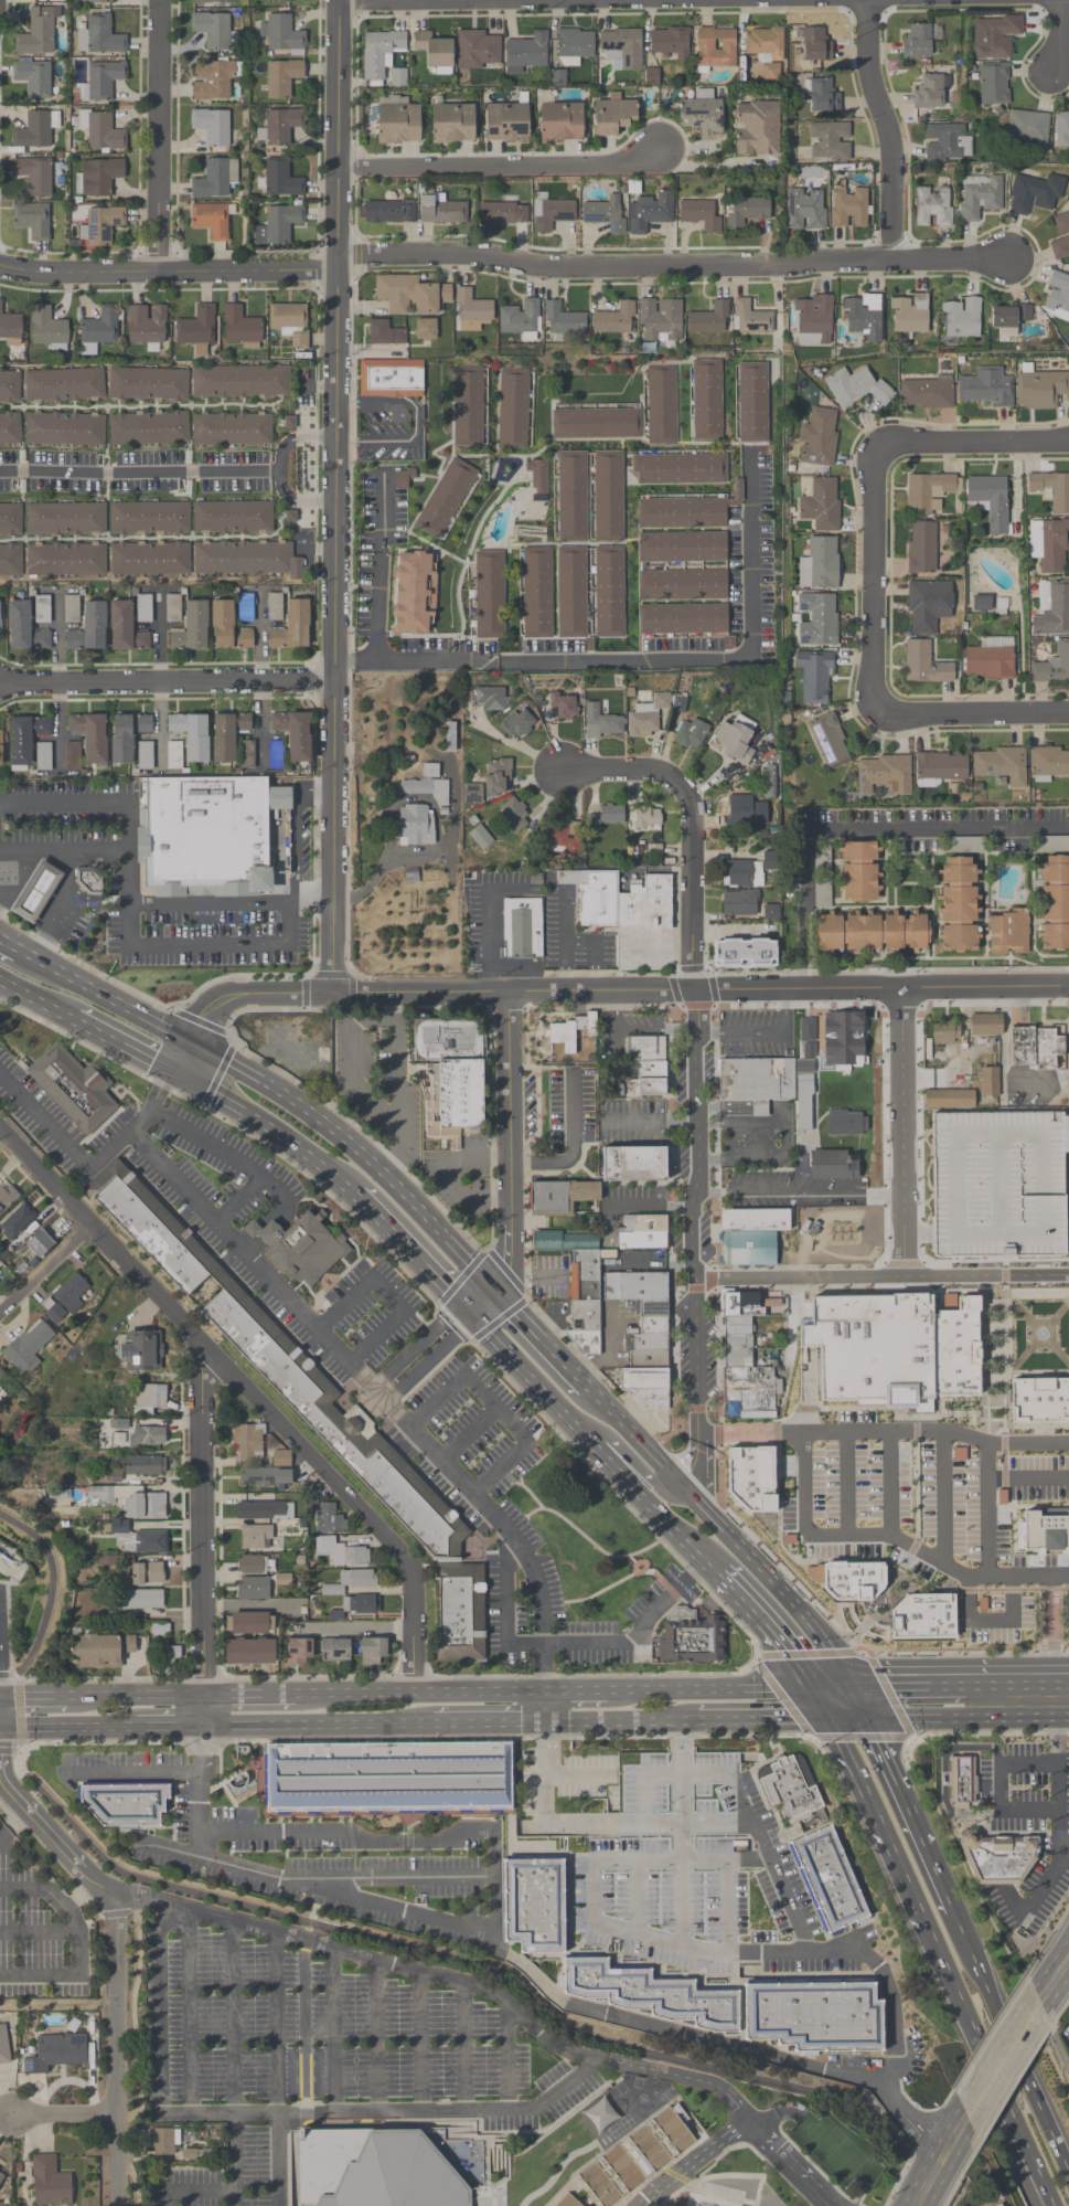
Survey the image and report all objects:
road: (427, 0)
building: (98, 1)
building: (210, 1)
building: (278, 1)
building: (212, 30)
building: (36, 32)
building: (98, 35)
building: (282, 35)
building: (997, 36)
road: (1056, 36)
building: (574, 42)
building: (670, 42)
building: (918, 42)
building: (763, 43)
building: (816, 44)
building: (621, 46)
building: (716, 46)
building: (478, 50)
building: (435, 52)
building: (525, 53)
building: (383, 56)
building: (34, 77)
building: (281, 77)
building: (557, 77)
building: (101, 81)
building: (213, 81)
building: (993, 84)
building: (931, 92)
building: (823, 97)
building: (612, 114)
building: (703, 114)
building: (397, 120)
building: (452, 123)
building: (504, 123)
building: (560, 123)
building: (211, 126)
building: (279, 127)
building: (1027, 128)
building: (757, 129)
building: (1061, 129)
building: (34, 130)
building: (101, 130)
road: (884, 130)
road: (159, 136)
building: (829, 141)
building: (947, 144)
road: (499, 163)
building: (34, 174)
building: (97, 176)
building: (215, 178)
building: (281, 178)
building: (1034, 194)
building: (979, 197)
building: (932, 206)
building: (848, 208)
building: (805, 209)
building: (442, 210)
building: (388, 211)
building: (503, 212)
building: (650, 212)
building: (745, 212)
building: (550, 214)
building: (606, 214)
building: (701, 214)
building: (32, 221)
building: (211, 221)
building: (278, 224)
building: (101, 225)
building: (1060, 236)
road: (502, 259)
building: (1057, 294)
building: (410, 295)
building: (471, 307)
building: (908, 314)
building: (863, 316)
building: (960, 317)
building: (521, 318)
building: (750, 318)
building: (563, 319)
building: (614, 319)
building: (709, 319)
building: (1008, 319)
building: (660, 320)
building: (812, 320)
building: (290, 321)
building: (146, 325)
building: (47, 327)
building: (196, 327)
building: (242, 327)
building: (10, 328)
building: (98, 329)
building: (425, 329)
building: (384, 332)
building: (391, 379)
building: (242, 382)
building: (148, 384)
building: (64, 385)
building: (9, 386)
building: (855, 386)
building: (987, 388)
building: (1039, 389)
building: (926, 392)
building: (707, 400)
building: (751, 403)
building: (662, 404)
building: (468, 405)
building: (514, 409)
road: (416, 420)
building: (596, 424)
building: (149, 427)
building: (64, 428)
building: (232, 428)
building: (10, 429)
building: (817, 438)
road: (977, 441)
building: (680, 470)
road: (276, 471)
road: (138, 474)
building: (403, 478)
building: (538, 481)
building: (1050, 489)
building: (929, 492)
road: (334, 496)
building: (573, 497)
building: (608, 497)
building: (447, 499)
building: (991, 500)
building: (821, 505)
building: (682, 513)
building: (233, 517)
building: (150, 518)
building: (65, 519)
building: (10, 520)
building: (1049, 545)
building: (681, 548)
building: (921, 548)
building: (149, 559)
building: (245, 559)
building: (10, 560)
building: (65, 560)
building: (819, 564)
road: (380, 568)
road: (872, 577)
building: (682, 585)
building: (413, 593)
building: (536, 593)
building: (571, 593)
building: (609, 593)
building: (490, 595)
building: (981, 604)
building: (928, 605)
building: (275, 606)
building: (245, 607)
building: (71, 608)
building: (143, 608)
building: (173, 608)
building: (1051, 608)
building: (42, 609)
building: (0, 617)
building: (683, 619)
building: (816, 619)
building: (291, 627)
building: (89, 628)
building: (125, 628)
building: (210, 628)
building: (24, 629)
road: (260, 636)
road: (58, 638)
road: (160, 638)
road: (639, 658)
building: (990, 659)
building: (924, 665)
building: (1051, 666)
building: (814, 676)
road: (168, 682)
building: (489, 699)
building: (564, 706)
road: (976, 710)
building: (646, 717)
building: (517, 723)
building: (601, 723)
building: (128, 734)
building: (191, 734)
building: (227, 734)
building: (293, 734)
building: (692, 734)
building: (89, 736)
building: (25, 738)
building: (736, 739)
building: (829, 741)
road: (517, 746)
building: (0, 747)
building: (246, 754)
building: (145, 755)
building: (275, 755)
building: (43, 756)
building: (72, 756)
building: (174, 756)
building: (1049, 762)
building: (999, 765)
building: (941, 767)
building: (881, 775)
building: (490, 782)
building: (770, 783)
building: (427, 786)
building: (739, 809)
building: (513, 815)
building: (609, 815)
building: (646, 818)
building: (415, 825)
road: (127, 826)
road: (887, 828)
building: (215, 835)
building: (482, 837)
building: (558, 839)
road: (301, 841)
building: (1051, 844)
road: (655, 871)
building: (748, 871)
building: (859, 872)
road: (7, 879)
building: (35, 892)
road: (215, 900)
road: (317, 900)
building: (620, 901)
building: (739, 903)
building: (1054, 903)
building: (958, 904)
road: (61, 906)
road: (565, 915)
building: (862, 922)
building: (522, 929)
building: (1008, 932)
road: (579, 938)
road: (487, 940)
road: (14, 944)
road: (189, 946)
road: (654, 950)
building: (745, 953)
road: (802, 959)
road: (701, 989)
road: (250, 994)
road: (109, 996)
road: (36, 1004)
road: (1020, 1006)
building: (985, 1026)
building: (570, 1031)
building: (944, 1032)
road: (760, 1033)
building: (848, 1038)
traffic signals: (191, 1039)
building: (805, 1049)
road: (124, 1052)
building: (1036, 1052)
road: (182, 1059)
road: (351, 1060)
building: (646, 1067)
building: (450, 1075)
traffic signals: (174, 1079)
road: (695, 1079)
building: (755, 1081)
building: (988, 1086)
building: (73, 1088)
road: (397, 1090)
road: (161, 1093)
building: (959, 1100)
building: (803, 1102)
road: (724, 1110)
road: (762, 1110)
road: (781, 1115)
road: (140, 1117)
building: (846, 1122)
road: (266, 1128)
road: (905, 1131)
road: (3, 1138)
road: (66, 1138)
building: (966, 1142)
road: (354, 1144)
road: (787, 1144)
road: (575, 1150)
road: (234, 1155)
road: (509, 1160)
building: (633, 1164)
building: (833, 1165)
road: (446, 1174)
building: (1046, 1176)
building: (968, 1177)
road: (799, 1192)
building: (7, 1196)
building: (560, 1197)
building: (970, 1210)
building: (17, 1222)
building: (643, 1233)
building: (750, 1235)
building: (35, 1247)
building: (306, 1251)
road: (408, 1254)
road: (258, 1259)
building: (848, 1264)
road: (45, 1269)
building: (0, 1274)
road: (880, 1275)
traffic signals: (493, 1283)
building: (578, 1284)
road: (389, 1291)
building: (66, 1298)
traffic signals: (468, 1316)
road: (541, 1334)
building: (643, 1336)
building: (28, 1346)
building: (140, 1353)
building: (742, 1360)
road: (250, 1392)
building: (149, 1399)
road: (500, 1403)
building: (313, 1407)
road: (627, 1428)
road: (473, 1433)
road: (885, 1434)
building: (146, 1436)
building: (247, 1442)
road: (595, 1443)
road: (685, 1454)
building: (142, 1465)
road: (637, 1468)
building: (269, 1472)
road: (1027, 1478)
road: (464, 1482)
road: (846, 1486)
road: (889, 1486)
building: (99, 1495)
road: (943, 1498)
building: (140, 1505)
building: (260, 1509)
building: (325, 1515)
road: (203, 1519)
road: (986, 1519)
building: (1044, 1530)
building: (255, 1537)
building: (138, 1540)
park: (589, 1540)
road: (908, 1547)
building: (342, 1552)
building: (252, 1565)
road: (58, 1568)
building: (148, 1572)
road: (763, 1573)
road: (977, 1576)
road: (1040, 1576)
road: (51, 1588)
building: (255, 1588)
building: (332, 1591)
building: (139, 1599)
road: (507, 1606)
building: (248, 1623)
road: (767, 1629)
road: (640, 1634)
building: (691, 1636)
building: (101, 1651)
building: (298, 1652)
building: (334, 1652)
building: (373, 1652)
building: (249, 1653)
building: (170, 1659)
road: (1054, 1668)
road: (1059, 1684)
road: (1008, 1685)
road: (907, 1687)
traffic signals: (811, 1688)
road: (829, 1688)
traffic signals: (846, 1689)
road: (708, 1690)
road: (576, 1693)
road: (419, 1694)
road: (249, 1697)
road: (32, 1698)
road: (135, 1698)
road: (819, 1703)
road: (853, 1703)
road: (545, 1708)
road: (20, 1709)
road: (964, 1716)
road: (761, 1717)
traffic signals: (826, 1717)
road: (843, 1717)
traffic signals: (860, 1717)
road: (621, 1721)
road: (489, 1725)
road: (318, 1728)
road: (67, 1730)
road: (169, 1730)
road: (875, 1746)
road: (683, 1747)
road: (1028, 1761)
road: (944, 1772)
road: (577, 1774)
road: (730, 1777)
road: (644, 1778)
building: (388, 1779)
building: (961, 1781)
road: (3, 1784)
building: (789, 1785)
road: (998, 1786)
road: (1058, 1786)
building: (676, 1793)
parking lot: (676, 1793)
road: (684, 1797)
building: (126, 1803)
road: (905, 1805)
road: (1028, 1812)
road: (13, 1822)
road: (564, 1823)
road: (877, 1823)
parking lot: (1029, 1827)
road: (1058, 1830)
road: (54, 1835)
road: (921, 1841)
road: (405, 1842)
road: (1067, 1847)
road: (769, 1855)
building: (997, 1857)
road: (628, 1864)
road: (408, 1876)
road: (938, 1878)
building: (827, 1879)
road: (38, 1889)
road: (1036, 1897)
building: (535, 1905)
road: (682, 1907)
road: (301, 1939)
road: (512, 1952)
road: (468, 1953)
road: (79, 1956)
road: (468, 1961)
road: (869, 1961)
road: (974, 1961)
road: (1055, 1980)
road: (952, 1986)
building: (650, 1994)
road: (189, 2013)
building: (812, 2015)
road: (233, 2018)
road: (275, 2023)
road: (333, 2029)
road: (377, 2035)
road: (1055, 2038)
road: (420, 2039)
road: (1012, 2041)
road: (464, 2045)
building: (3, 2046)
road: (116, 2046)
building: (55, 2053)
road: (509, 2056)
road: (1002, 2058)
road: (621, 2061)
road: (160, 2067)
road: (992, 2072)
road: (546, 2098)
road: (1040, 2104)
road: (312, 2108)
road: (473, 2109)
road: (65, 2111)
road: (370, 2111)
road: (953, 2136)
road: (894, 2139)
building: (164, 2141)
road: (1062, 2152)
road: (1029, 2154)
building: (637, 2157)
road: (234, 2160)
road: (276, 2160)
road: (697, 2163)
road: (794, 2167)
building: (2, 2174)
building: (398, 2175)
road: (929, 2181)
building: (50, 2182)
road: (194, 2189)
road: (959, 2192)
building: (568, 2200)
building: (705, 2200)
building: (1001, 2205)

